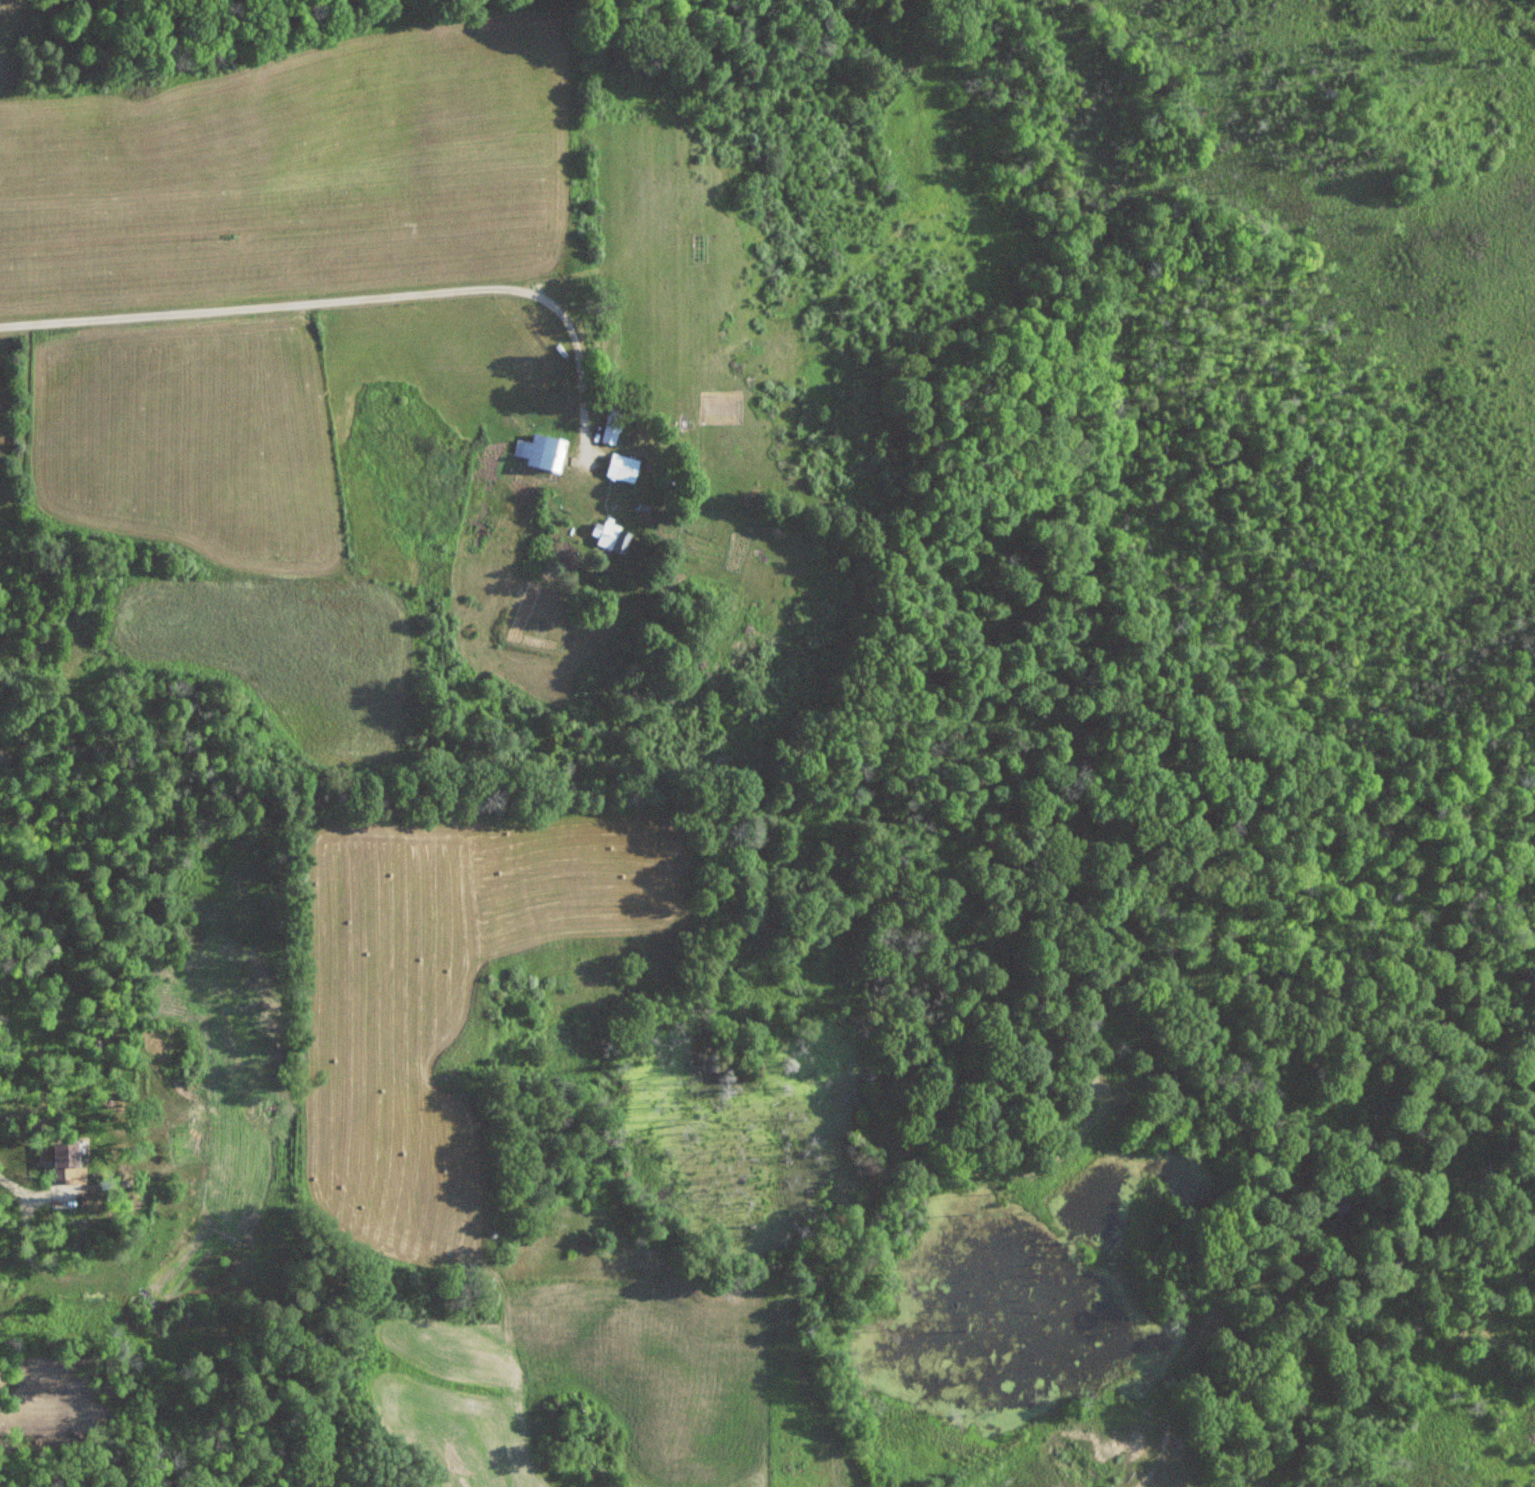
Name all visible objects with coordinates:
road: (339, 282)
building: (611, 425)
building: (542, 452)
building: (622, 468)
building: (613, 538)

